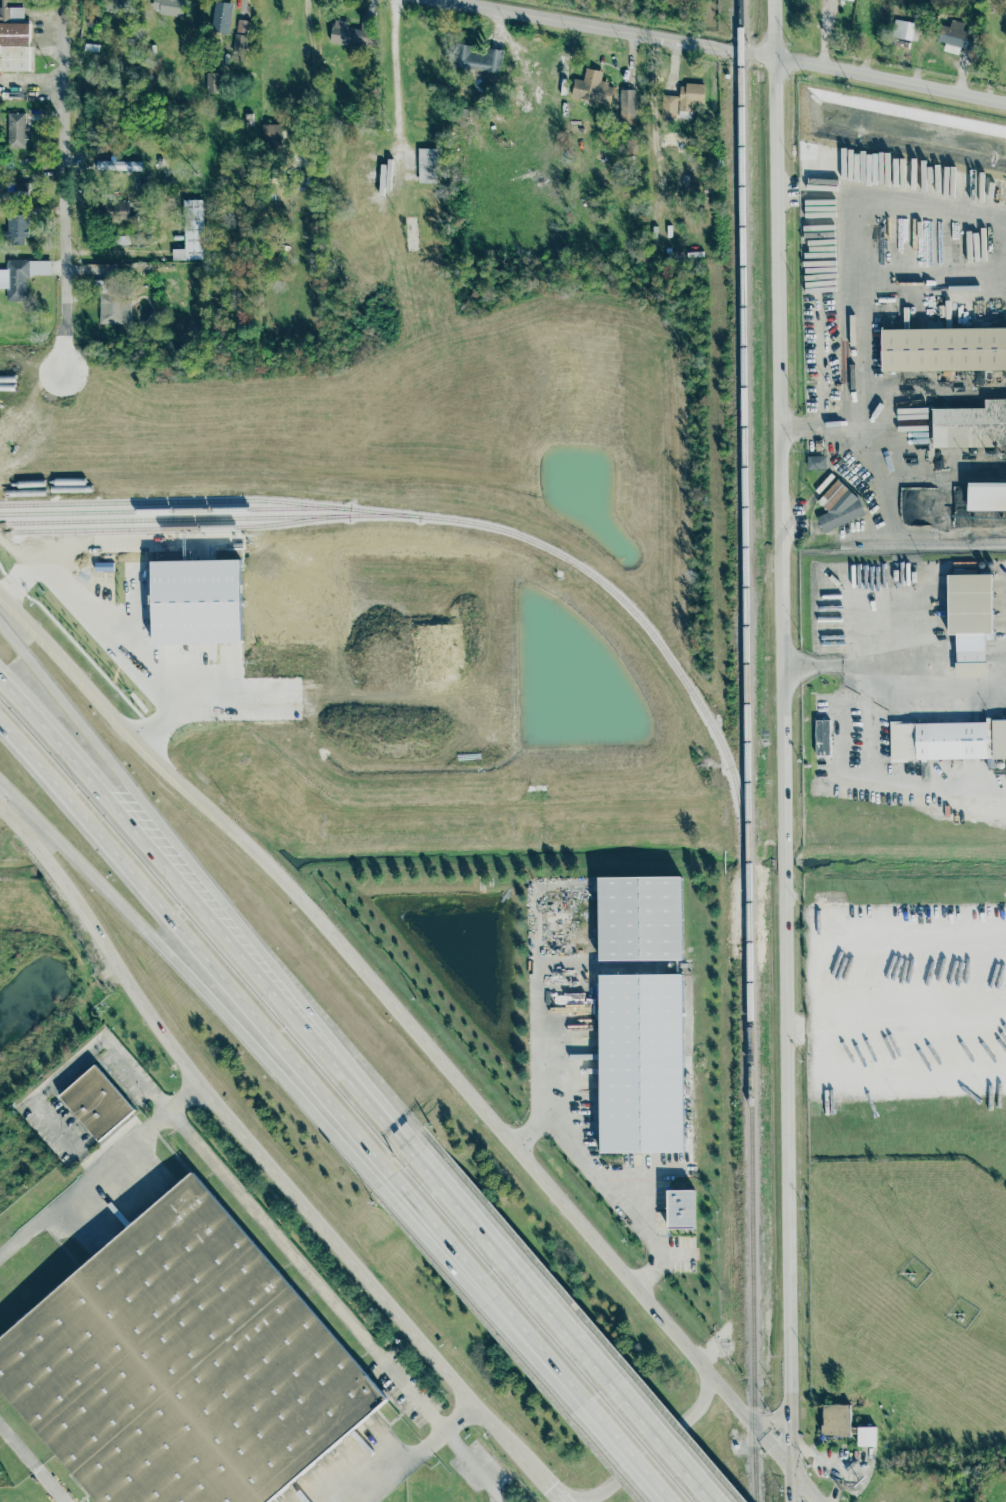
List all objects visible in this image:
building: (850, 0)
building: (110, 5)
building: (168, 6)
building: (222, 17)
building: (241, 25)
building: (905, 30)
building: (352, 33)
road: (822, 33)
building: (955, 37)
building: (14, 40)
building: (239, 42)
road: (720, 49)
building: (475, 61)
building: (213, 82)
road: (313, 86)
road: (395, 86)
building: (592, 87)
road: (32, 92)
building: (627, 101)
building: (681, 101)
building: (16, 130)
building: (270, 133)
building: (119, 165)
building: (426, 165)
road: (62, 185)
building: (21, 188)
road: (784, 191)
road: (823, 193)
road: (926, 205)
building: (115, 209)
building: (16, 227)
building: (191, 232)
building: (15, 279)
road: (944, 284)
road: (1003, 284)
building: (111, 304)
road: (864, 340)
building: (943, 349)
road: (936, 382)
road: (789, 425)
building: (970, 426)
road: (845, 439)
road: (853, 456)
building: (816, 462)
road: (826, 482)
building: (837, 507)
railway: (175, 510)
road: (802, 510)
railway: (210, 518)
railway: (489, 526)
road: (815, 527)
railway: (177, 528)
road: (792, 529)
road: (892, 533)
road: (135, 542)
road: (203, 549)
road: (31, 570)
building: (197, 602)
building: (970, 621)
road: (120, 632)
road: (810, 665)
road: (205, 671)
road: (922, 687)
road: (205, 692)
building: (823, 738)
building: (947, 742)
road: (135, 744)
railway: (747, 750)
road: (777, 751)
street lamp: (800, 760)
road: (901, 788)
road: (206, 890)
street lamp: (985, 902)
street lamp: (850, 903)
street lamp: (895, 903)
street lamp: (938, 903)
road: (206, 917)
building: (640, 918)
road: (867, 932)
road: (597, 966)
road: (539, 978)
road: (916, 998)
road: (397, 1009)
road: (248, 1012)
road: (793, 1029)
road: (817, 1029)
road: (247, 1043)
road: (570, 1063)
building: (642, 1063)
road: (69, 1069)
road: (891, 1081)
street lamp: (986, 1095)
street lamp: (898, 1098)
street lamp: (941, 1099)
parking lot: (593, 1100)
street lamp: (853, 1100)
building: (96, 1103)
parking lot: (593, 1133)
road: (522, 1136)
parking lot: (672, 1158)
parking lot: (634, 1160)
road: (262, 1161)
road: (98, 1171)
road: (600, 1174)
street lamp: (579, 1205)
parking lot: (660, 1205)
building: (682, 1209)
road: (472, 1221)
street lamp: (625, 1240)
parking lot: (681, 1241)
road: (667, 1253)
parking lot: (682, 1266)
road: (307, 1272)
road: (644, 1278)
road: (664, 1322)
road: (572, 1335)
road: (540, 1354)
building: (183, 1366)
road: (772, 1422)
building: (844, 1425)
road: (664, 1441)
road: (648, 1450)
road: (624, 1453)
road: (419, 1455)
road: (32, 1462)
road: (474, 1467)
road: (561, 1495)

